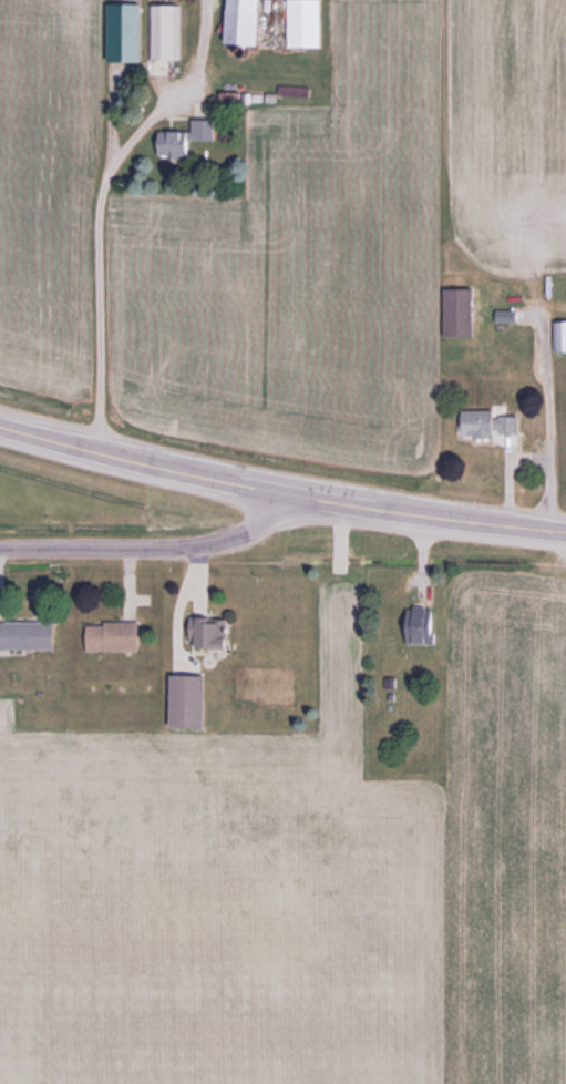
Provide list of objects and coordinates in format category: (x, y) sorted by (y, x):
building: (248, 21)
building: (164, 31)
building: (186, 139)
building: (461, 313)
building: (559, 336)
building: (492, 425)
road: (548, 425)
road: (280, 491)
road: (158, 548)
building: (423, 625)
building: (213, 633)
building: (29, 636)
building: (116, 636)
building: (193, 700)

